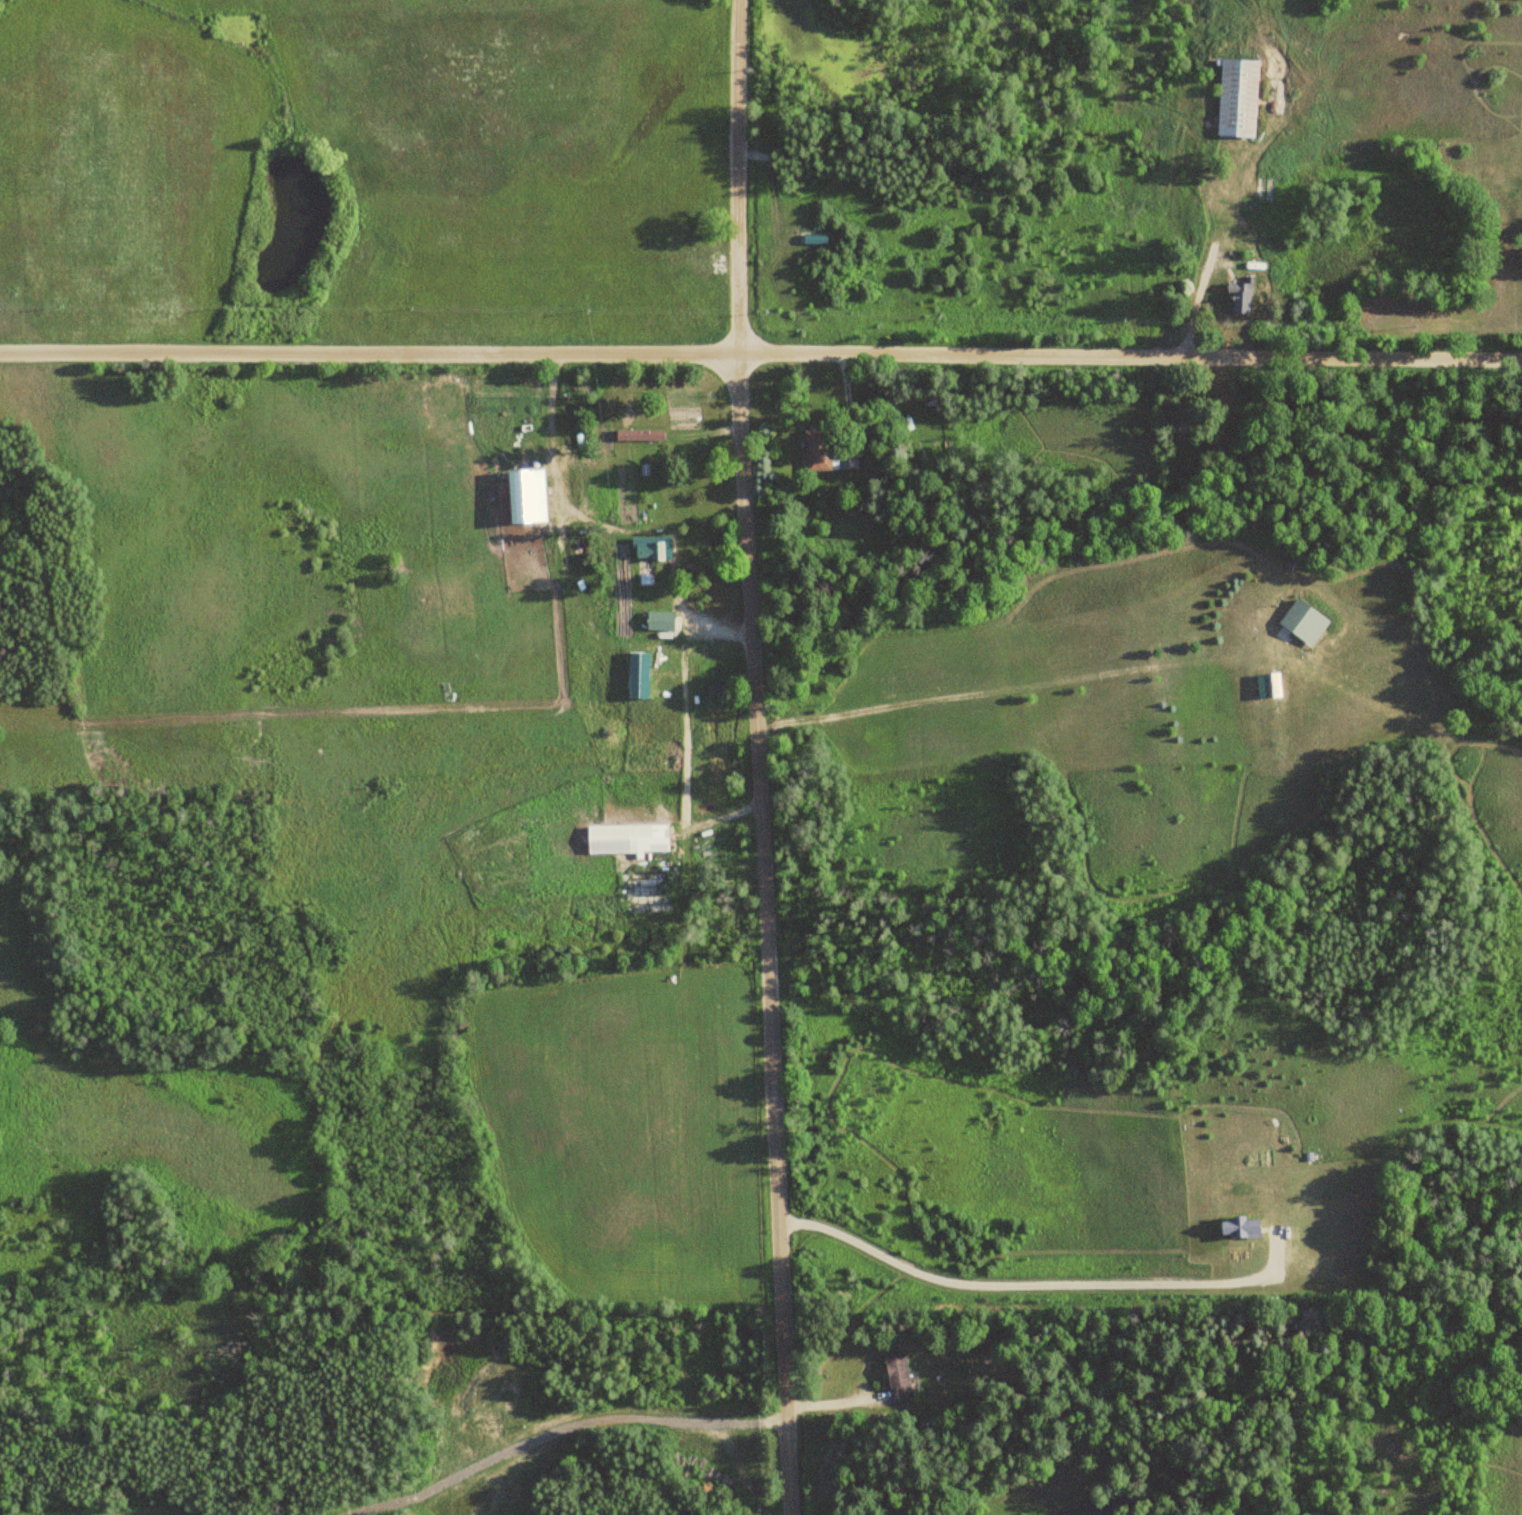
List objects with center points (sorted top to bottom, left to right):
building: (1237, 98)
building: (1240, 297)
road: (369, 352)
road: (1130, 354)
building: (814, 450)
building: (846, 459)
building: (609, 543)
building: (646, 551)
building: (1302, 623)
building: (713, 691)
road: (766, 757)
building: (626, 838)
building: (1237, 1227)
building: (896, 1375)

